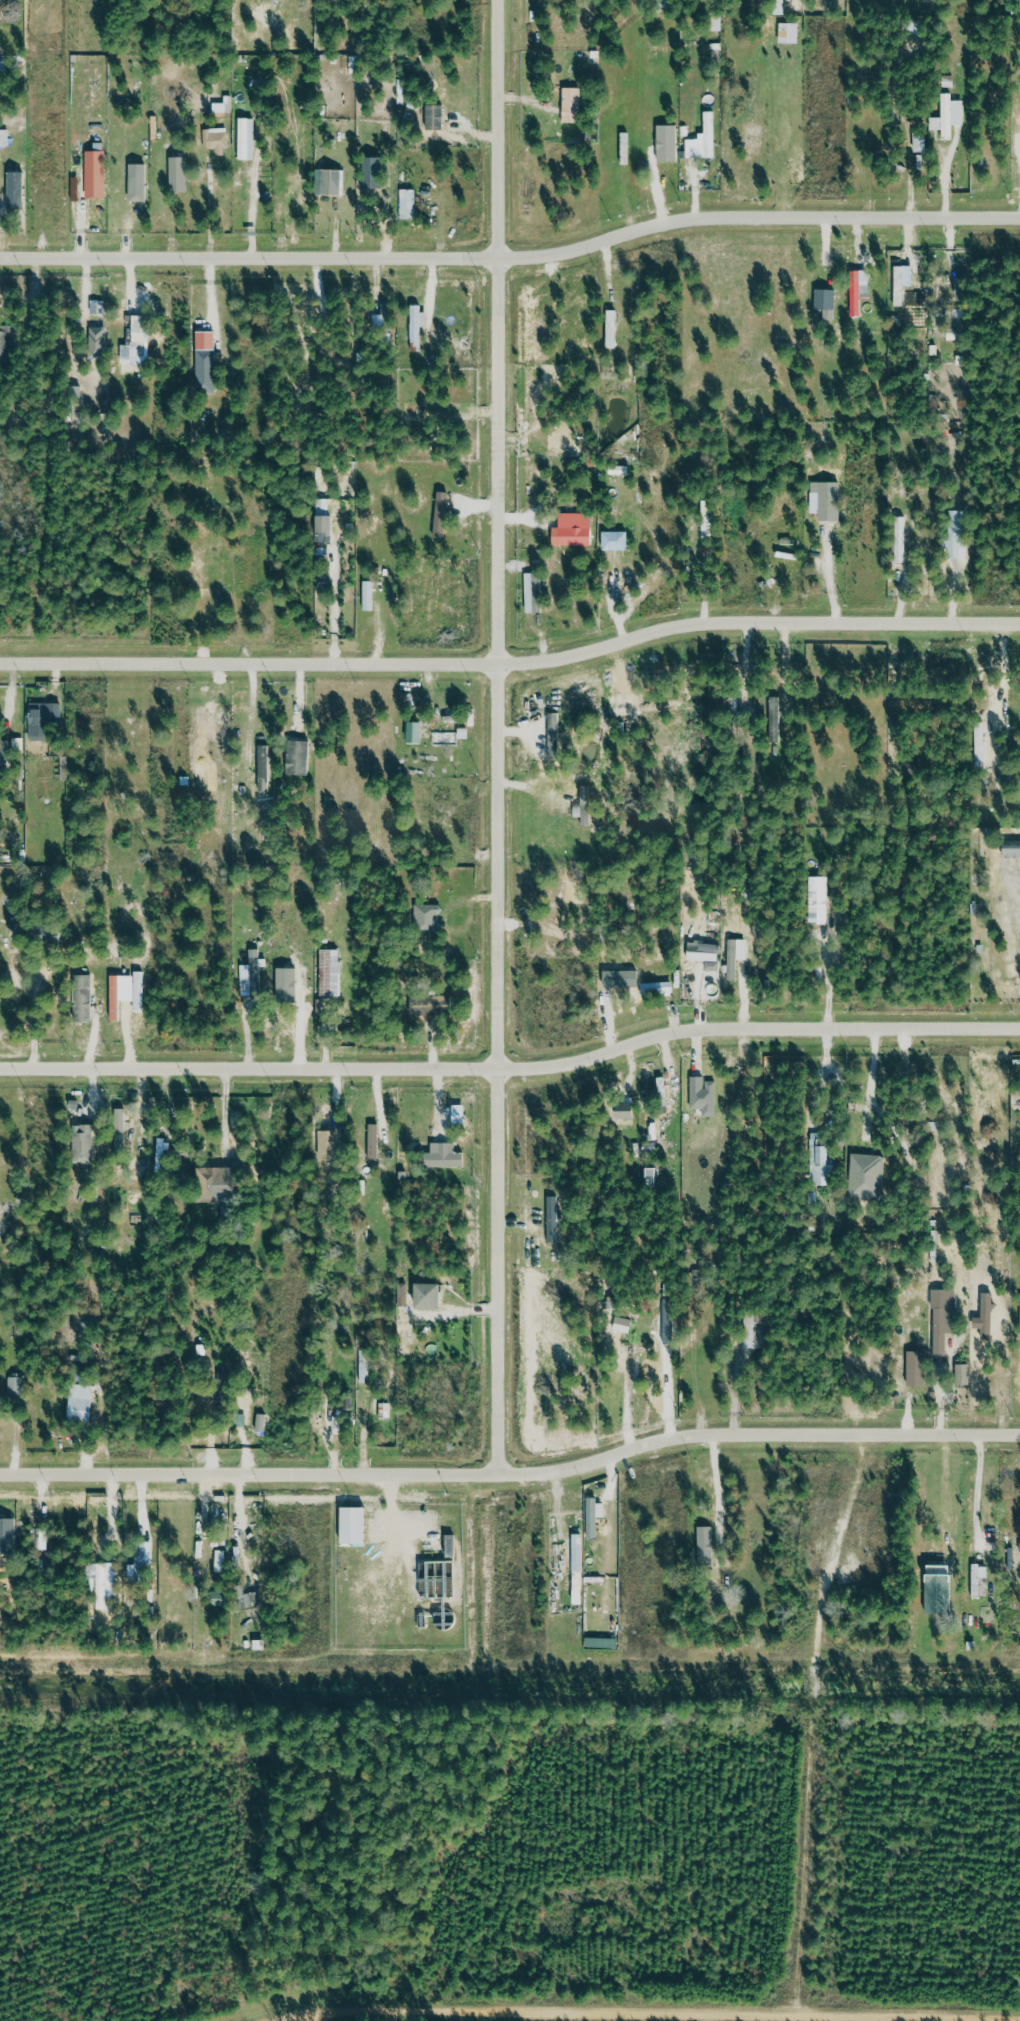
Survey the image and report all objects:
building: (717, 23)
building: (790, 30)
building: (402, 89)
building: (573, 102)
building: (223, 105)
building: (950, 116)
building: (444, 128)
building: (5, 135)
building: (247, 136)
building: (705, 136)
building: (216, 137)
building: (625, 145)
building: (98, 168)
building: (179, 170)
building: (139, 179)
building: (332, 179)
building: (16, 185)
building: (75, 188)
building: (409, 201)
building: (241, 206)
road: (512, 264)
building: (902, 280)
building: (859, 288)
building: (826, 297)
building: (387, 308)
building: (954, 316)
building: (417, 324)
building: (613, 326)
building: (141, 335)
building: (8, 336)
building: (94, 337)
building: (208, 357)
building: (76, 391)
building: (828, 494)
building: (442, 511)
building: (709, 515)
building: (575, 527)
building: (324, 529)
building: (617, 538)
building: (900, 538)
road: (823, 575)
building: (369, 593)
building: (535, 593)
road: (512, 659)
building: (776, 716)
building: (46, 717)
building: (416, 724)
building: (463, 733)
building: (554, 733)
building: (979, 736)
building: (445, 738)
road: (506, 739)
building: (299, 754)
building: (4, 755)
building: (586, 803)
building: (1013, 845)
building: (819, 897)
building: (428, 913)
building: (47, 934)
building: (705, 946)
building: (737, 953)
building: (332, 968)
building: (254, 973)
building: (618, 973)
building: (658, 985)
building: (115, 995)
building: (82, 998)
building: (434, 1000)
road: (513, 1075)
building: (661, 1087)
building: (705, 1093)
building: (628, 1106)
building: (120, 1128)
building: (86, 1139)
building: (374, 1139)
building: (330, 1142)
building: (446, 1152)
building: (161, 1153)
building: (817, 1159)
building: (867, 1173)
building: (218, 1181)
building: (553, 1215)
building: (431, 1290)
building: (403, 1294)
building: (945, 1314)
building: (987, 1314)
building: (623, 1321)
building: (760, 1326)
building: (365, 1364)
building: (917, 1364)
building: (963, 1370)
building: (1017, 1380)
building: (17, 1382)
building: (248, 1398)
building: (81, 1401)
road: (513, 1478)
road: (718, 1479)
road: (979, 1489)
road: (249, 1512)
building: (593, 1513)
building: (356, 1521)
building: (8, 1533)
building: (707, 1540)
building: (452, 1542)
building: (239, 1556)
building: (139, 1558)
building: (579, 1565)
building: (438, 1576)
building: (979, 1576)
building: (106, 1580)
building: (939, 1585)
building: (246, 1597)
building: (219, 1598)
building: (593, 1641)
road: (824, 1721)
road: (673, 2017)

